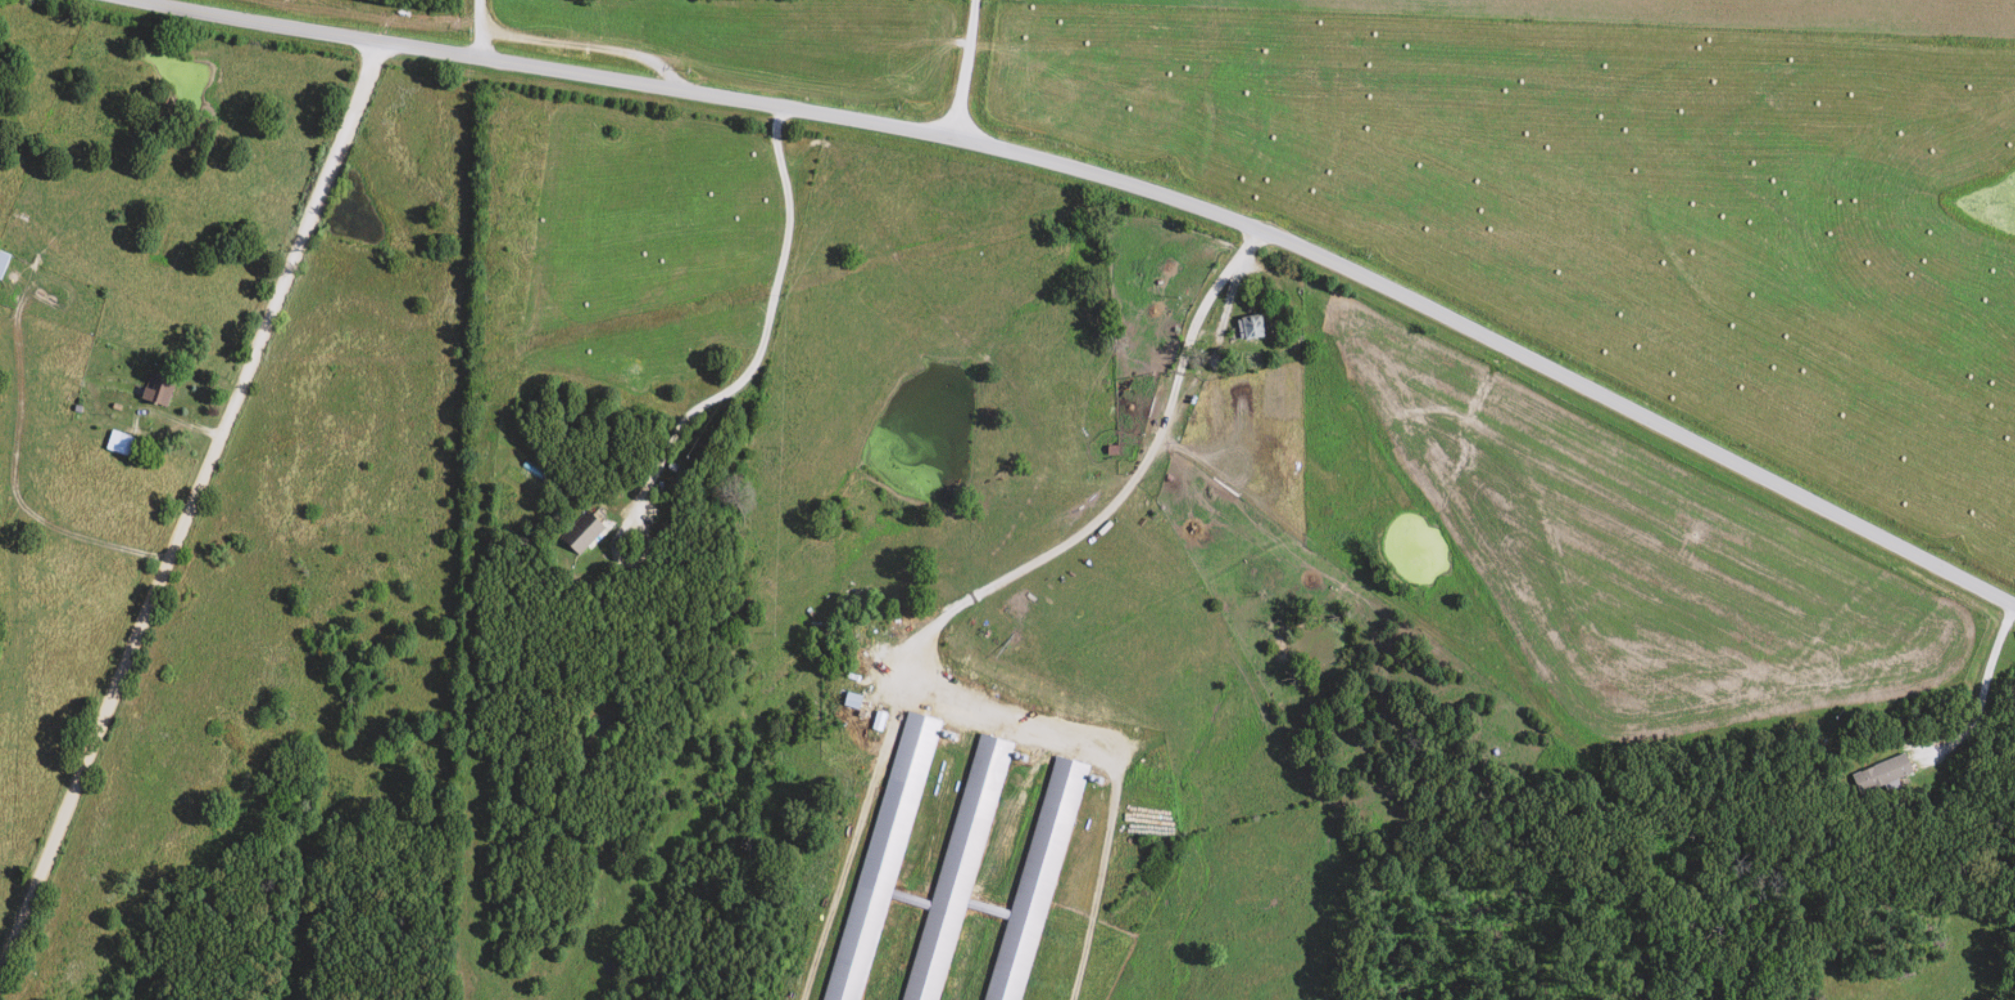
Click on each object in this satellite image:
road: (480, 29)
road: (967, 69)
road: (1116, 180)
building: (4, 264)
road: (1228, 292)
building: (1248, 327)
road: (730, 389)
building: (162, 391)
building: (126, 445)
building: (1111, 454)
road: (195, 512)
building: (583, 536)
road: (1026, 566)
road: (1982, 688)
building: (851, 700)
building: (879, 720)
building: (1879, 775)
building: (951, 867)

